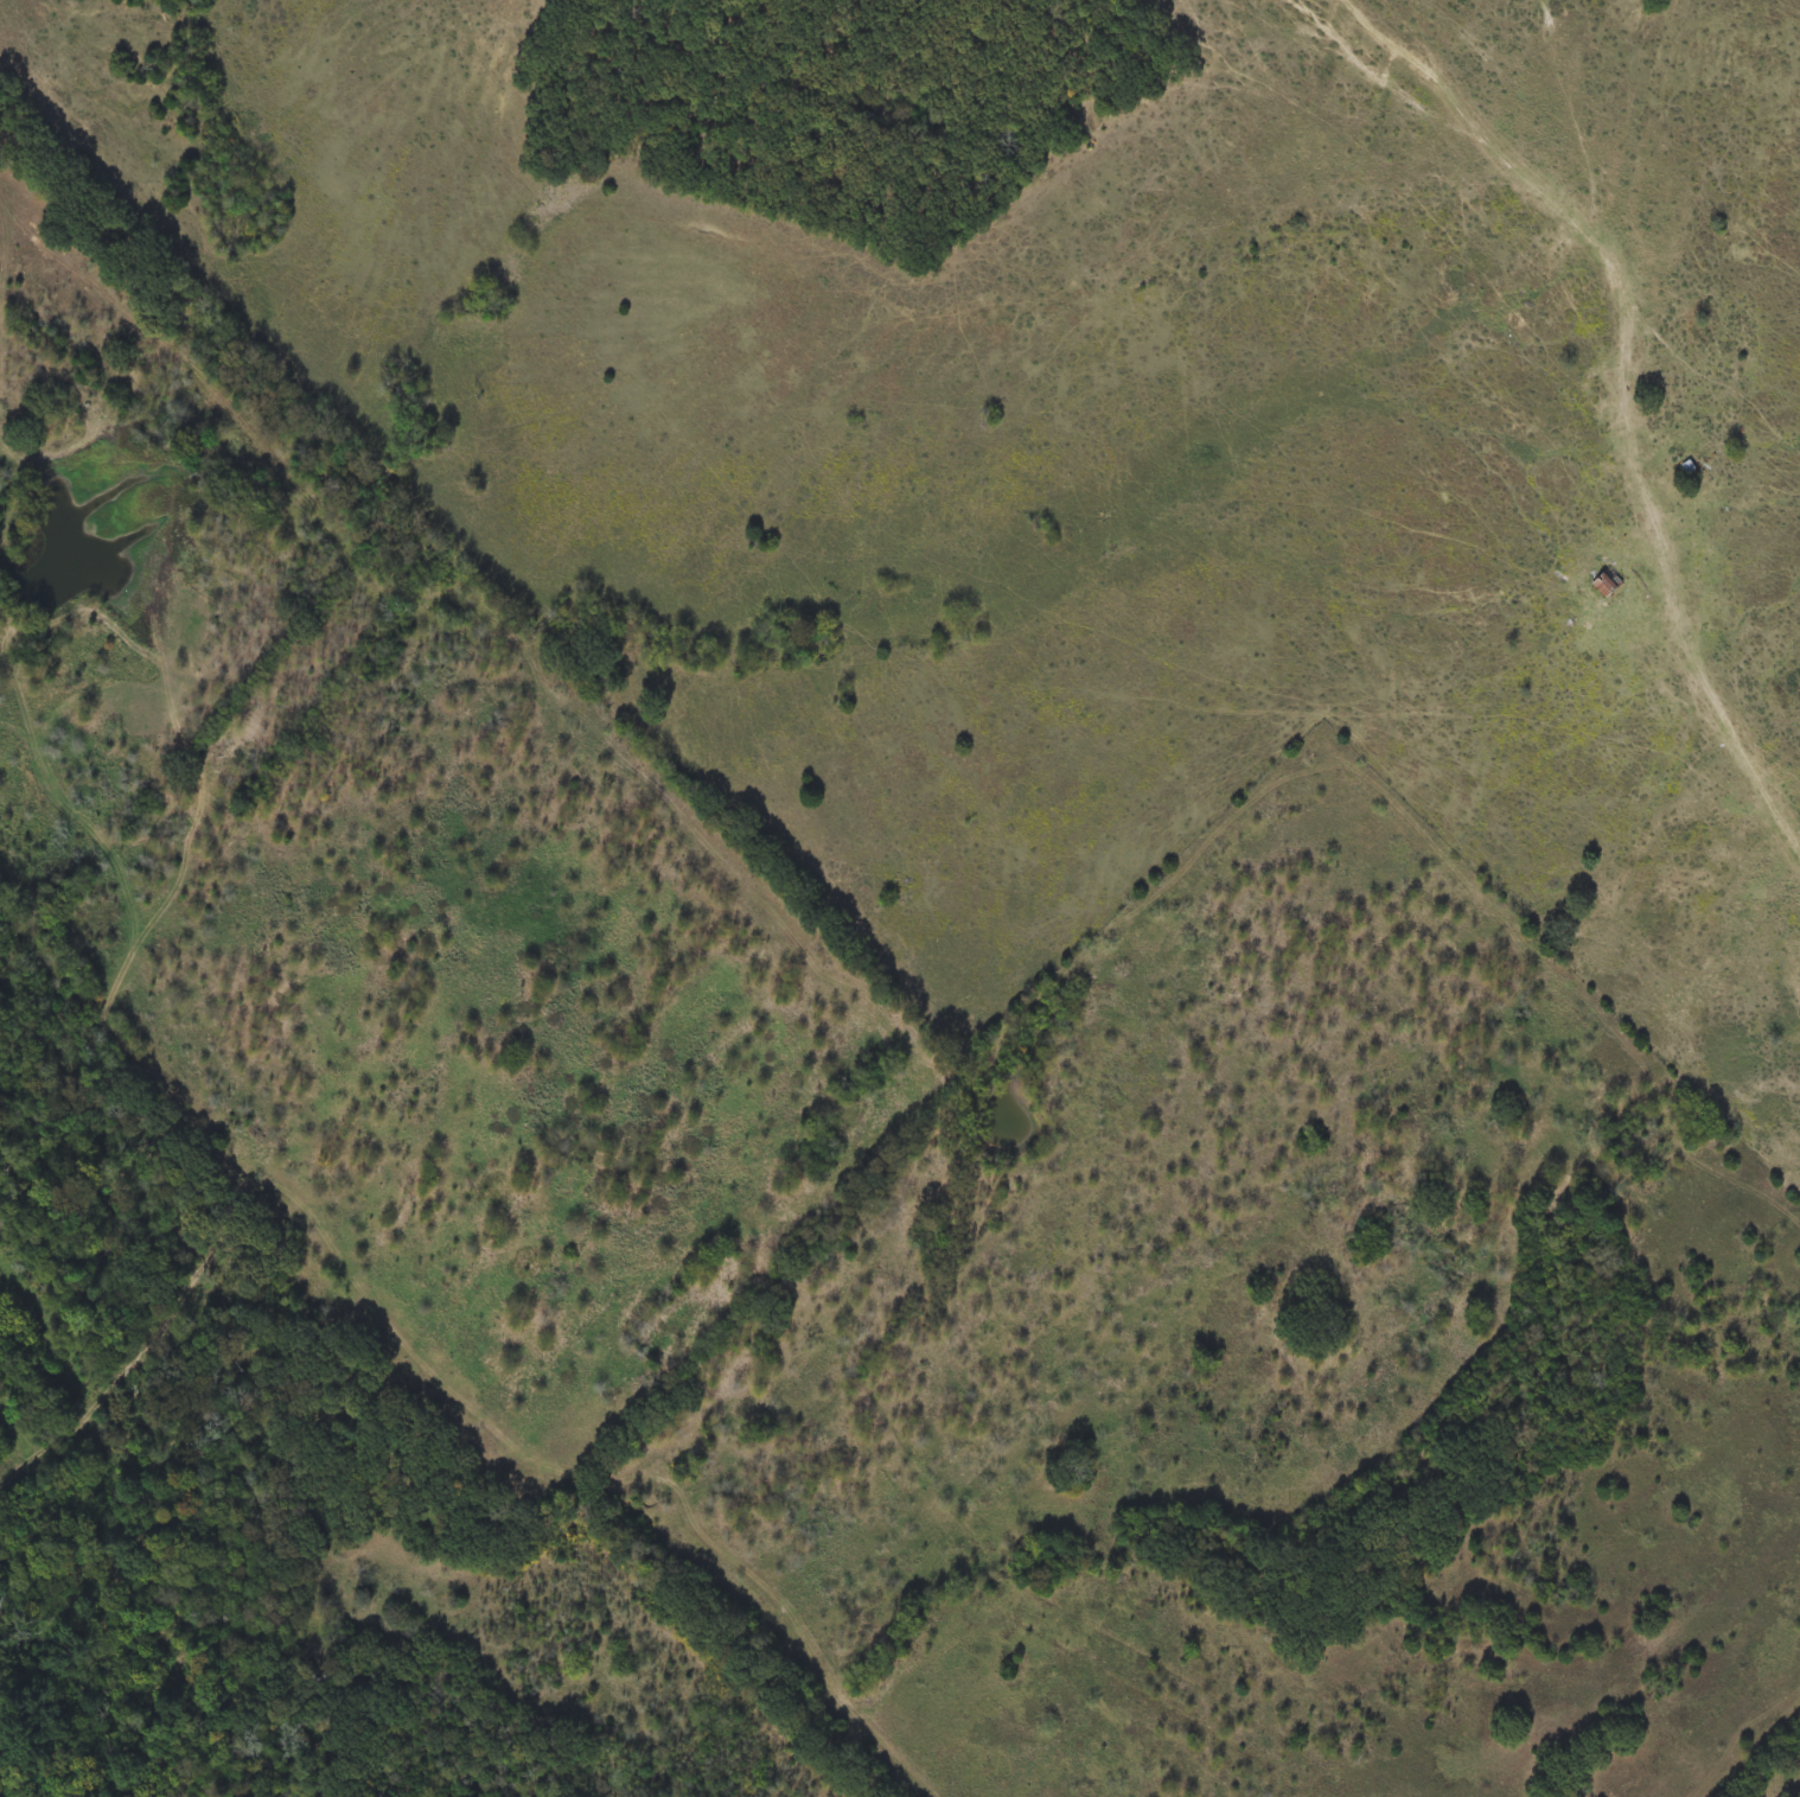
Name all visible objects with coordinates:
building: (1602, 585)

